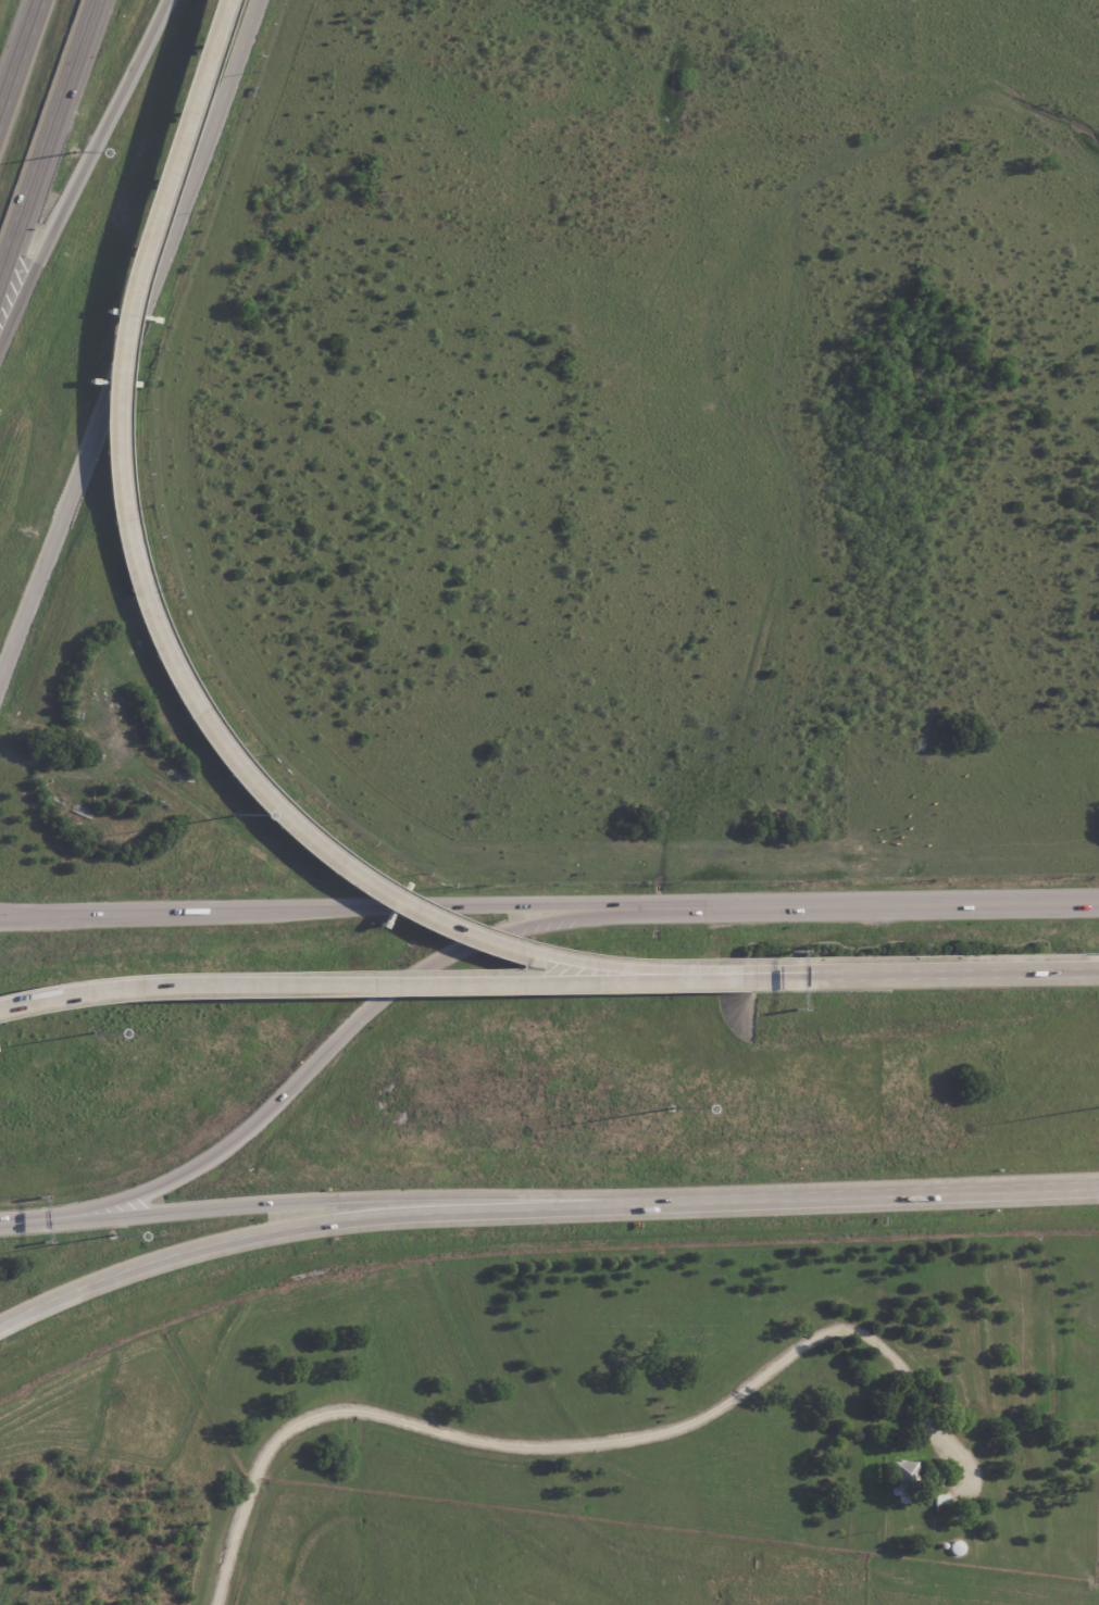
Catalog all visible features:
road: (18, 53)
road: (45, 128)
road: (80, 165)
road: (114, 328)
road: (159, 623)
road: (858, 903)
road: (308, 906)
road: (17, 913)
road: (878, 973)
road: (328, 979)
road: (316, 1055)
road: (835, 1193)
road: (298, 1202)
road: (12, 1222)
road: (278, 1229)
road: (555, 1446)
building: (903, 1478)
building: (940, 1502)
building: (956, 1545)
storage tank: (956, 1545)

